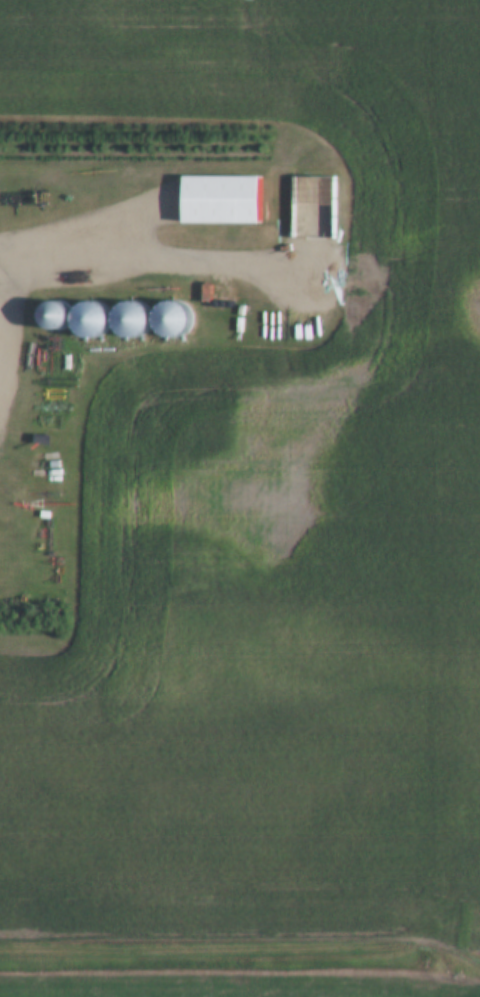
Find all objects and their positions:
building: (219, 202)
road: (242, 942)

